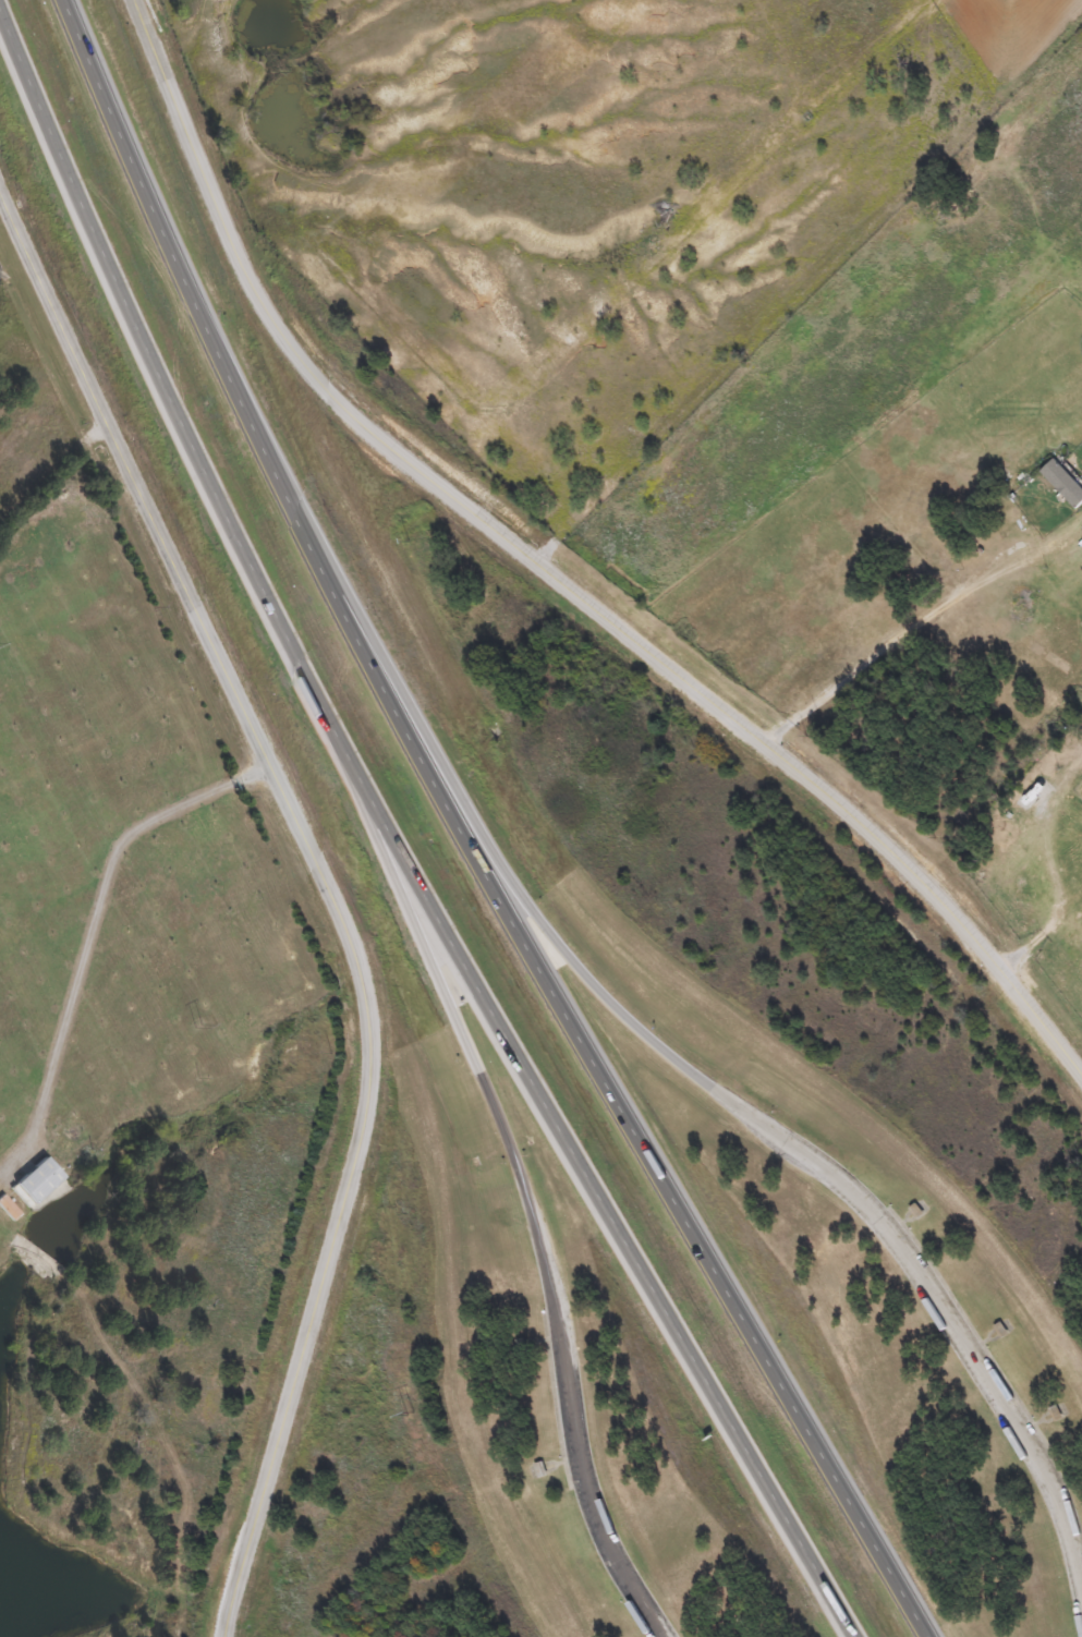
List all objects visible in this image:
building: (1062, 482)
road: (552, 577)
building: (1034, 791)
road: (462, 835)
road: (397, 841)
road: (500, 866)
road: (329, 892)
road: (445, 992)
building: (63, 1138)
building: (37, 1179)
road: (961, 1343)
parking lot: (955, 1348)
building: (538, 1469)
parking lot: (601, 1513)
road: (597, 1517)

